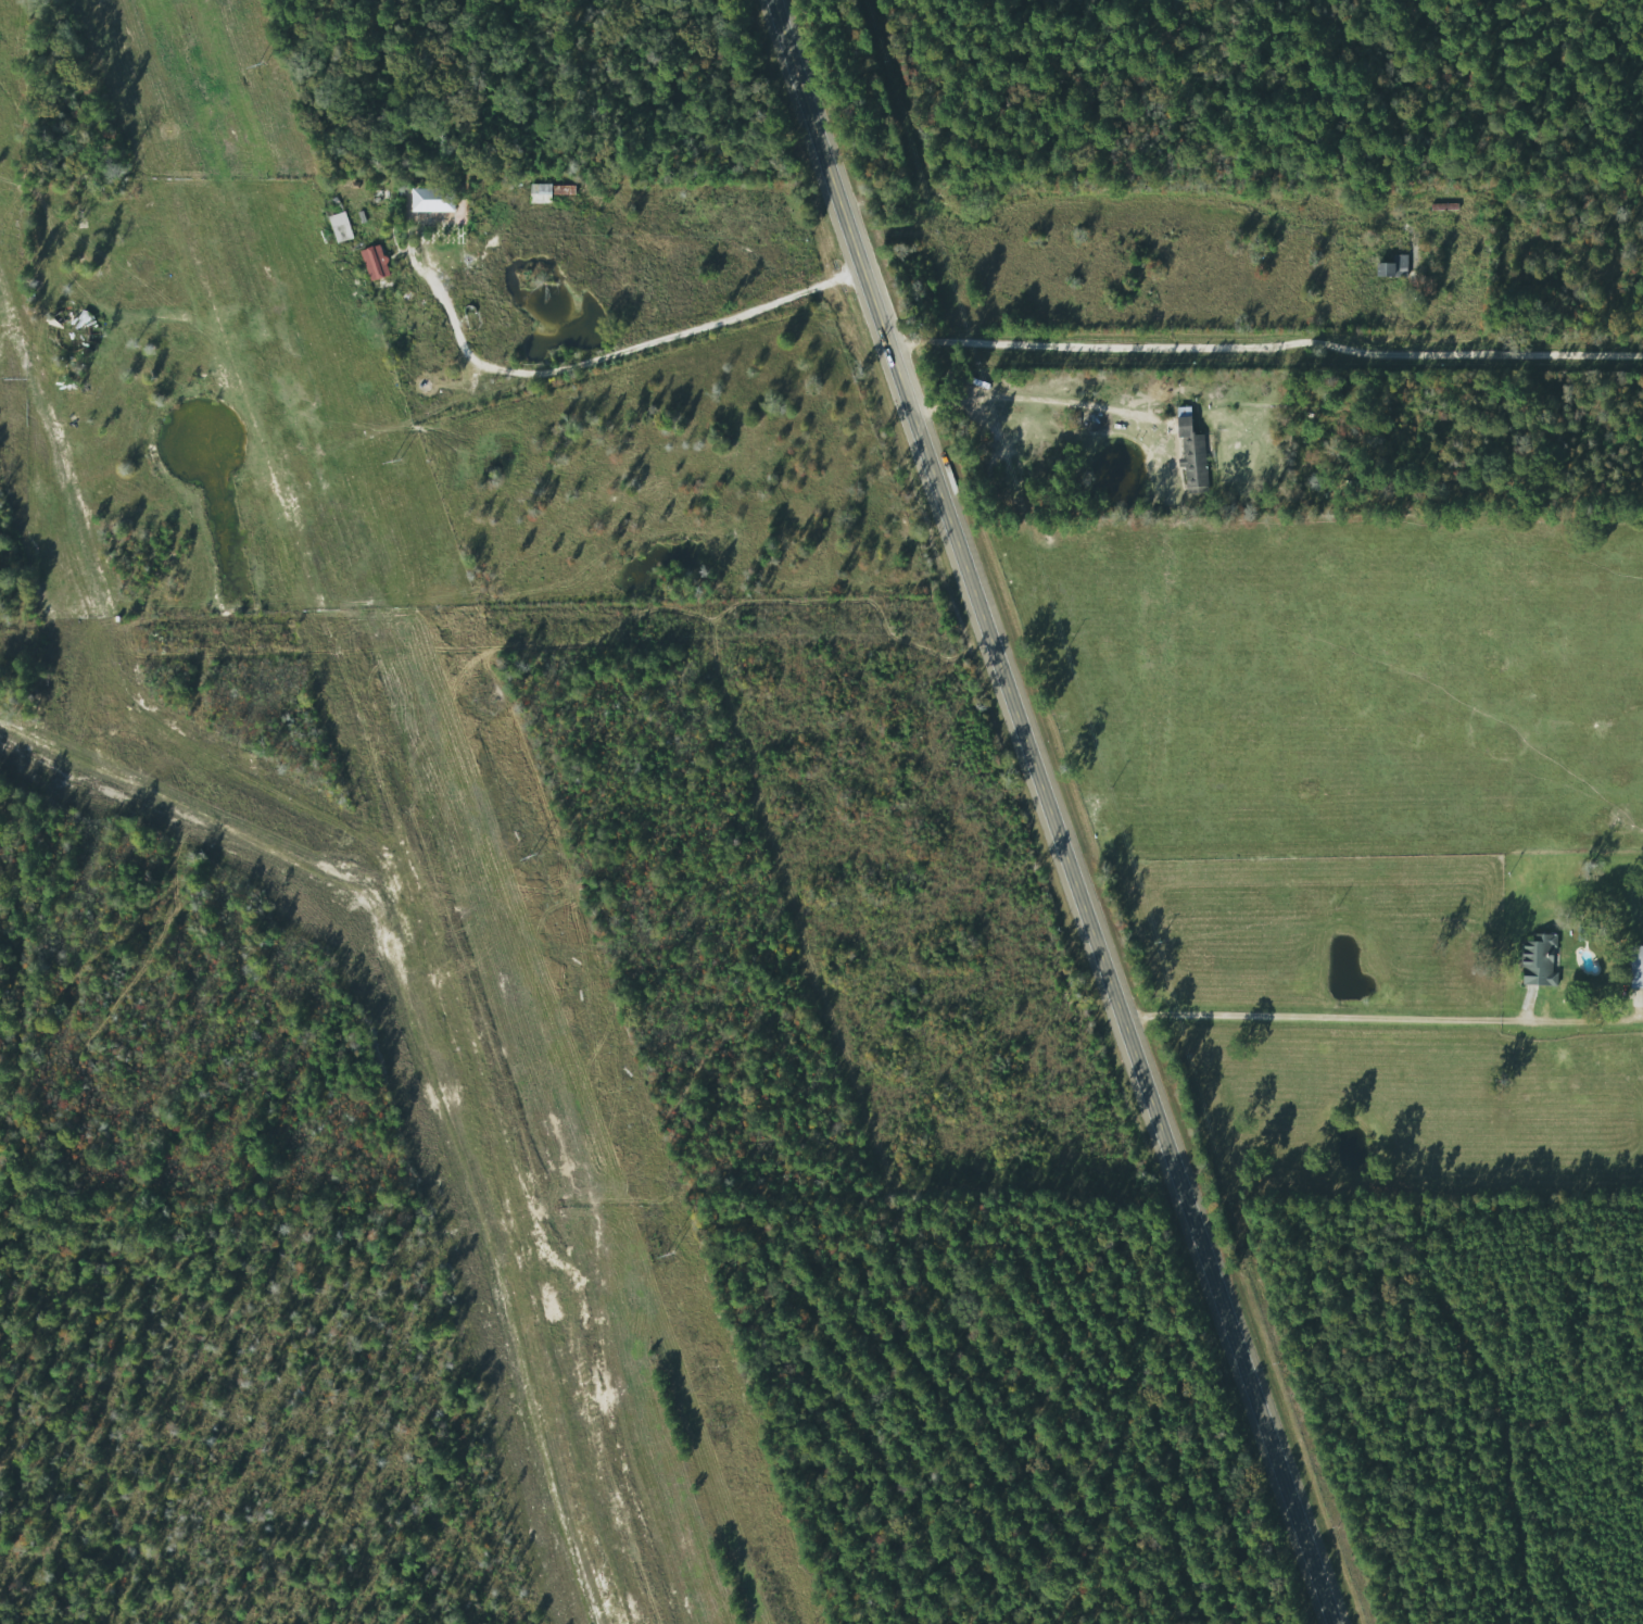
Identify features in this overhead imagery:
power tower: (257, 67)
road: (1139, 193)
building: (427, 202)
building: (371, 263)
building: (1390, 268)
road: (1265, 344)
road: (631, 353)
power tower: (396, 458)
building: (1190, 458)
road: (1052, 811)
power tower: (532, 854)
building: (1538, 960)
building: (1635, 968)
road: (1357, 1018)
power tower: (665, 1255)

